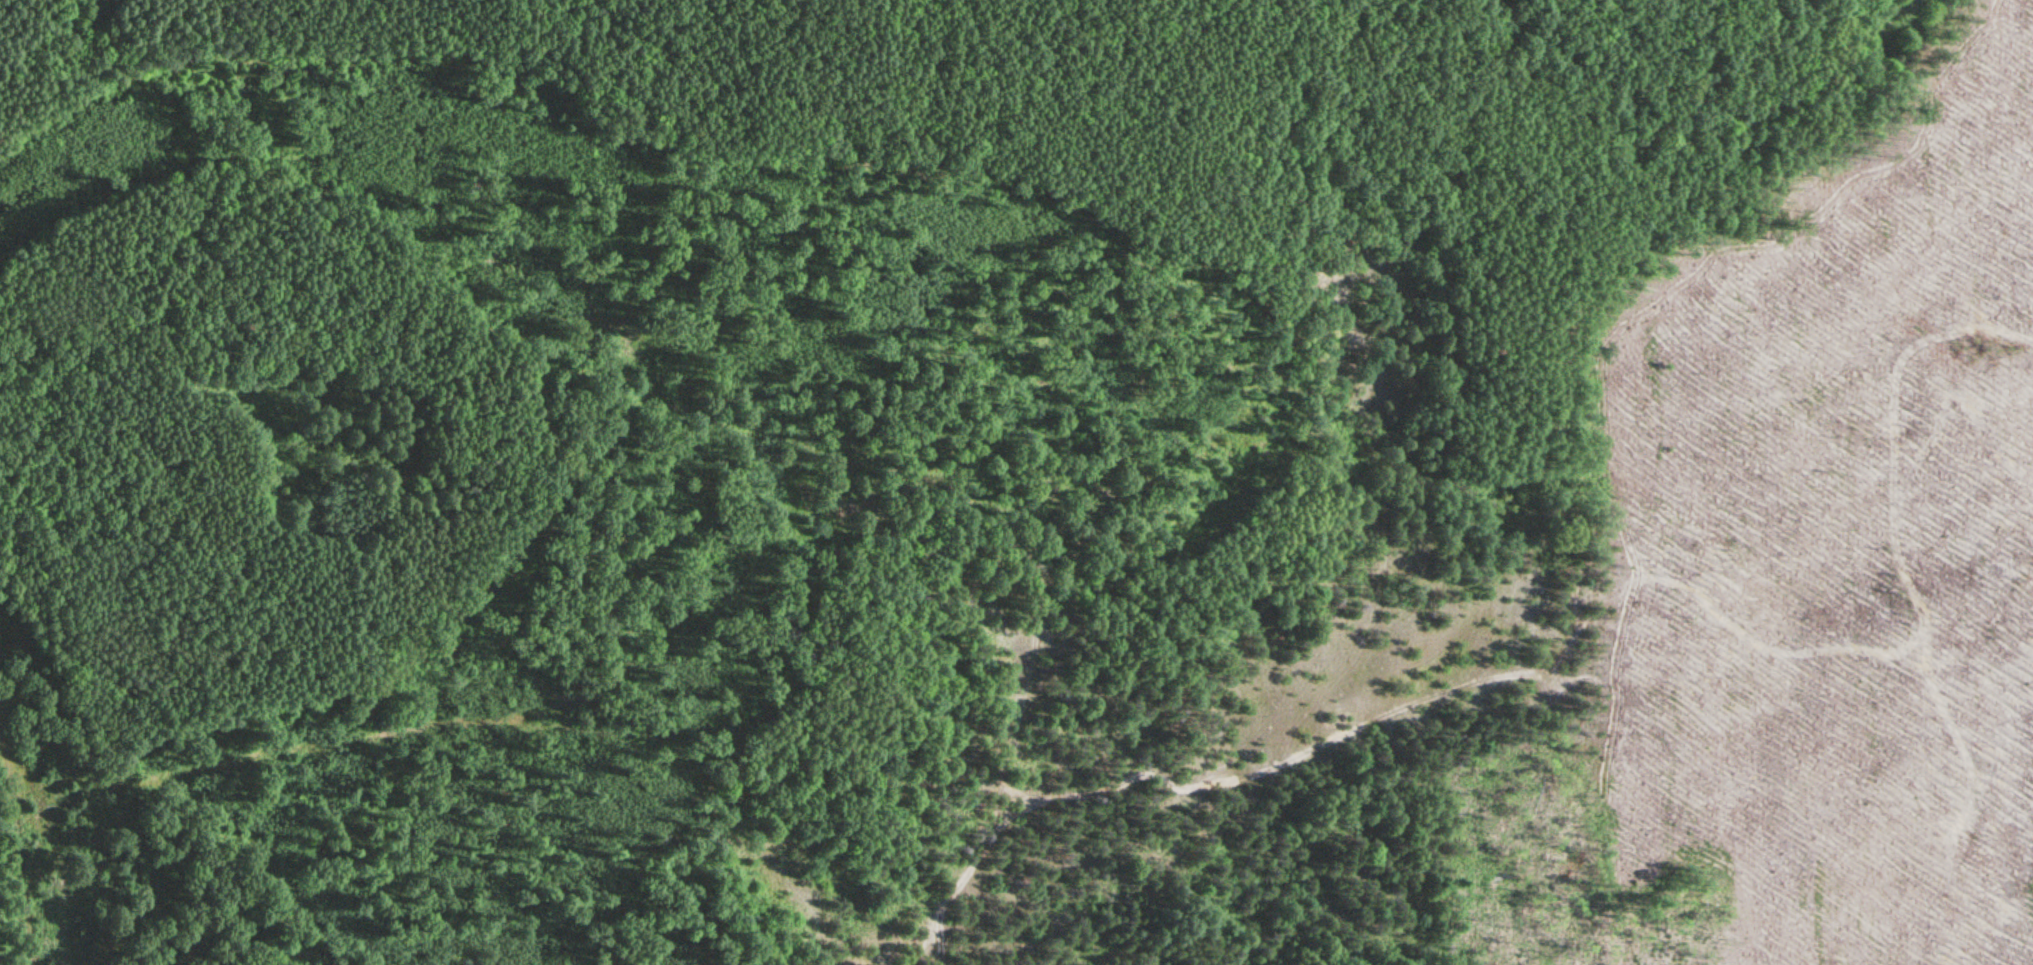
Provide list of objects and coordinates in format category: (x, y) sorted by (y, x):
road: (1288, 770)

